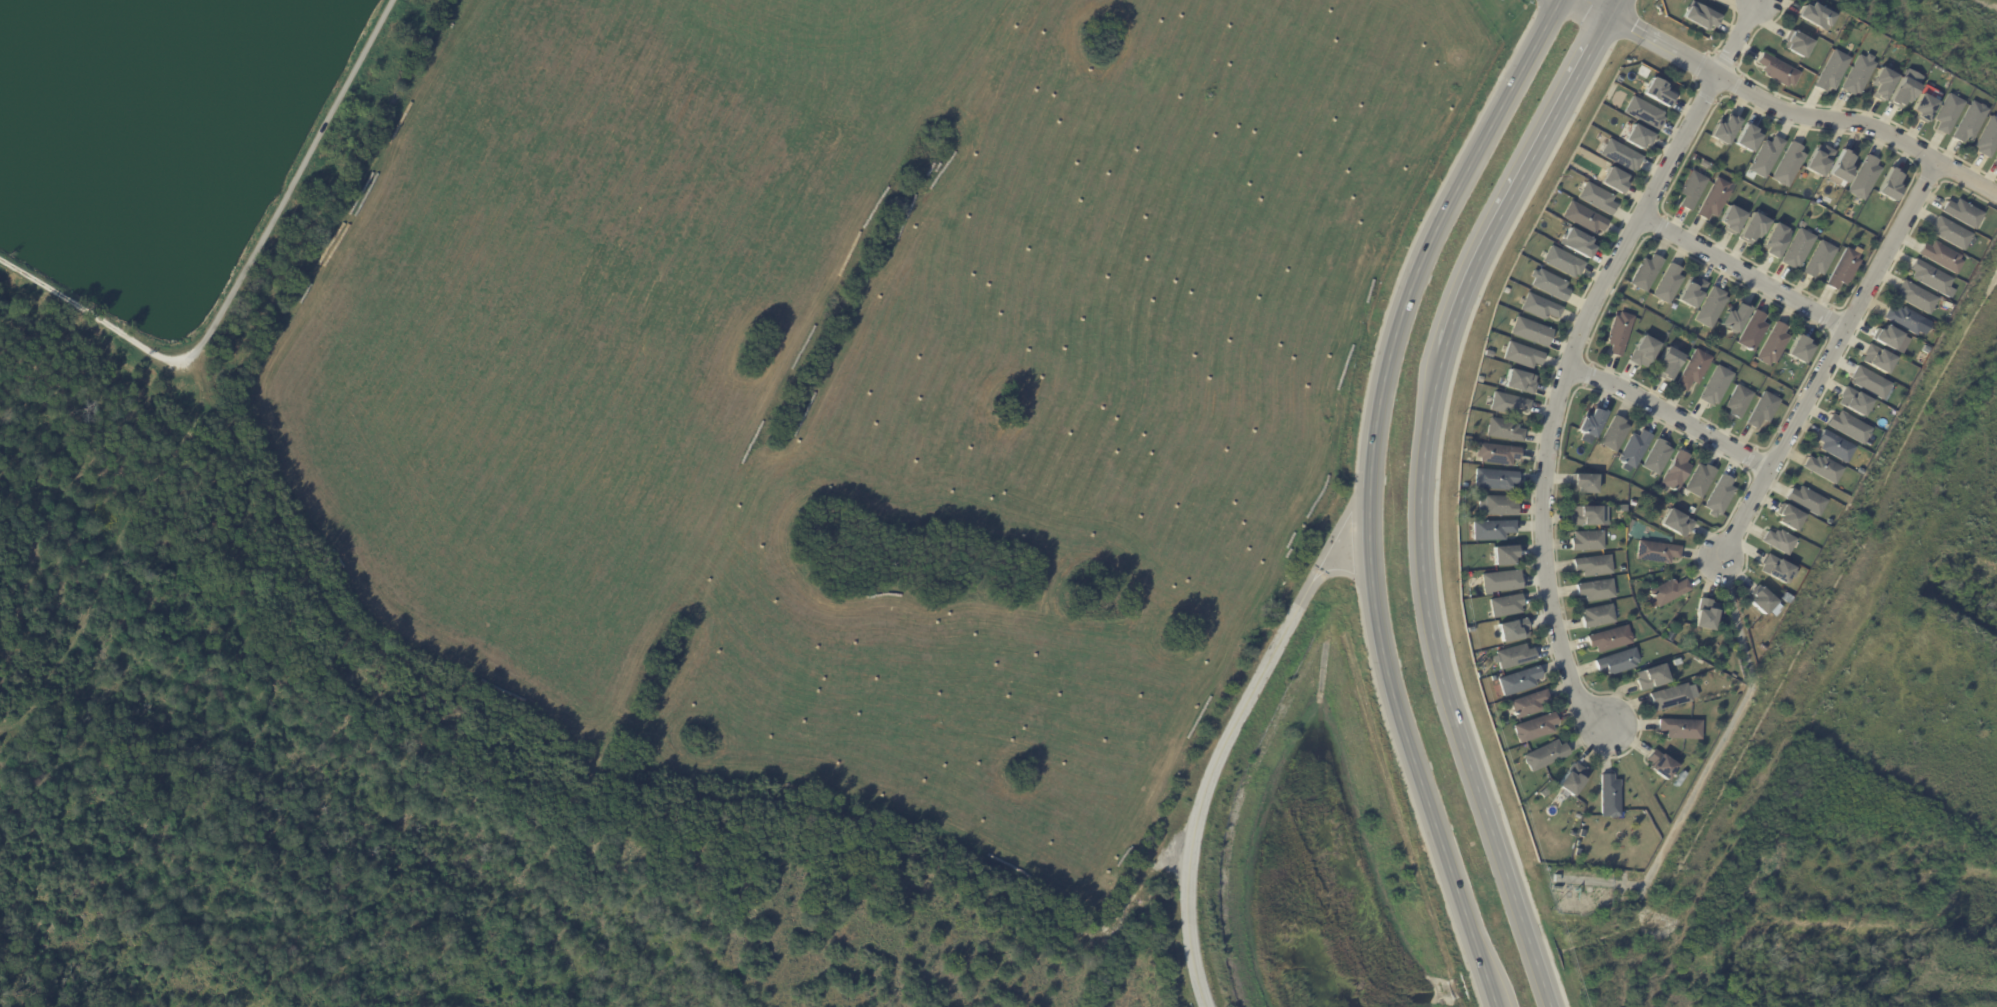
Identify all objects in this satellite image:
building: (1710, 0)
building: (1698, 15)
building: (1814, 15)
building: (1794, 42)
building: (1775, 69)
building: (1830, 70)
building: (1856, 73)
building: (1879, 82)
building: (1656, 91)
building: (1901, 91)
building: (1921, 107)
road: (1787, 109)
building: (1946, 111)
building: (1643, 112)
building: (1968, 121)
building: (1722, 128)
building: (1636, 136)
building: (1986, 136)
building: (1745, 137)
wastewater plant: (204, 152)
building: (1619, 154)
building: (1764, 155)
building: (1995, 157)
building: (1816, 158)
building: (1703, 163)
building: (1786, 163)
building: (1839, 165)
building: (1861, 177)
building: (1613, 179)
road: (291, 182)
building: (1887, 184)
building: (1690, 188)
building: (1595, 197)
building: (1712, 198)
building: (1961, 212)
building: (1581, 216)
building: (1730, 218)
building: (1751, 227)
building: (1949, 232)
building: (1773, 239)
building: (1575, 242)
building: (1795, 248)
building: (1940, 255)
building: (1817, 258)
building: (1561, 261)
building: (1841, 268)
road: (1744, 271)
building: (1643, 272)
building: (1928, 275)
building: (1666, 282)
building: (1547, 283)
building: (1504, 289)
building: (1689, 290)
building: (1914, 296)
building: (1538, 306)
building: (1708, 306)
road: (90, 315)
building: (1732, 316)
building: (1905, 319)
building: (1750, 329)
building: (1529, 330)
building: (1617, 332)
building: (1888, 337)
building: (1770, 343)
building: (1797, 348)
building: (1641, 350)
building: (1486, 352)
road: (1574, 352)
building: (1521, 354)
building: (1875, 357)
road: (1828, 360)
building: (1666, 362)
parking lot: (182, 365)
building: (1691, 368)
crop: (866, 373)
building: (1478, 378)
building: (1518, 380)
building: (1867, 381)
building: (1714, 384)
building: (1736, 400)
building: (1852, 400)
building: (1506, 402)
building: (1760, 408)
road: (1671, 413)
building: (1588, 424)
building: (1847, 425)
building: (1502, 428)
building: (1612, 432)
building: (1833, 445)
building: (1631, 449)
building: (1495, 452)
building: (1655, 456)
building: (1821, 467)
building: (1674, 470)
building: (1858, 470)
building: (1492, 478)
building: (1697, 478)
building: (1581, 482)
road: (1419, 491)
road: (1367, 492)
building: (1717, 495)
building: (1805, 499)
building: (1495, 504)
building: (1587, 514)
building: (1787, 516)
building: (1828, 521)
building: (1674, 522)
road: (1339, 523)
building: (1490, 528)
building: (1585, 539)
building: (1777, 540)
road: (116, 546)
building: (1654, 550)
building: (1502, 553)
building: (1591, 564)
building: (1619, 567)
building: (1775, 567)
road: (1344, 572)
building: (1499, 580)
building: (1594, 589)
building: (1666, 590)
road: (1303, 593)
building: (1783, 596)
building: (1761, 600)
building: (1504, 605)
building: (1703, 613)
building: (1596, 615)
building: (1467, 628)
building: (1511, 628)
building: (1667, 636)
building: (1607, 638)
building: (1512, 655)
building: (1615, 660)
building: (1649, 675)
building: (1517, 679)
building: (1667, 696)
building: (1526, 702)
building: (1532, 726)
building: (1679, 728)
building: (1542, 754)
building: (1658, 764)
building: (1570, 778)
building: (1542, 791)
building: (1607, 795)
road: (1203, 796)
dam: (1247, 841)

